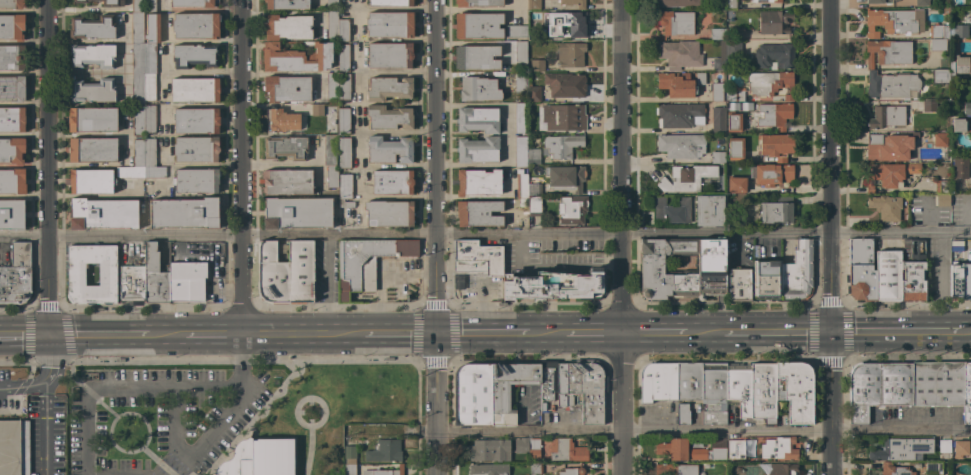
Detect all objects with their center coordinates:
building: (766, 1)
building: (881, 1)
building: (104, 2)
building: (547, 2)
building: (195, 3)
building: (331, 3)
building: (390, 3)
building: (477, 3)
building: (573, 3)
building: (678, 3)
building: (921, 3)
building: (957, 3)
building: (12, 4)
building: (286, 4)
building: (533, 4)
building: (731, 4)
building: (941, 5)
building: (138, 6)
building: (149, 6)
road: (395, 7)
road: (90, 9)
building: (933, 9)
building: (946, 10)
building: (729, 14)
building: (675, 22)
building: (774, 22)
building: (893, 22)
building: (567, 23)
building: (332, 24)
building: (389, 24)
building: (478, 25)
building: (196, 26)
building: (11, 27)
building: (287, 27)
building: (92, 28)
building: (152, 28)
building: (342, 30)
building: (515, 31)
building: (939, 31)
building: (958, 31)
building: (737, 33)
building: (716, 34)
building: (534, 35)
road: (395, 39)
building: (937, 45)
building: (733, 49)
building: (520, 52)
building: (888, 53)
building: (570, 54)
building: (679, 54)
building: (93, 55)
building: (194, 55)
building: (389, 55)
building: (774, 56)
building: (476, 57)
building: (12, 58)
building: (297, 58)
building: (343, 58)
building: (720, 58)
building: (141, 63)
building: (961, 64)
building: (537, 65)
road: (200, 71)
road: (395, 71)
road: (287, 74)
building: (940, 77)
building: (520, 81)
building: (562, 83)
building: (679, 84)
building: (892, 85)
building: (344, 86)
building: (332, 87)
building: (388, 88)
building: (764, 88)
building: (12, 89)
building: (286, 89)
building: (478, 89)
building: (195, 90)
building: (92, 91)
building: (716, 92)
building: (533, 93)
building: (928, 106)
building: (733, 107)
building: (967, 108)
building: (317, 110)
building: (679, 114)
building: (773, 115)
building: (388, 117)
building: (564, 117)
building: (889, 117)
road: (357, 118)
building: (520, 118)
building: (93, 119)
building: (149, 119)
building: (477, 119)
building: (718, 119)
building: (12, 120)
building: (281, 120)
building: (137, 121)
building: (196, 121)
building: (343, 121)
building: (733, 122)
building: (958, 125)
road: (395, 132)
road: (505, 133)
building: (712, 137)
building: (940, 142)
building: (681, 145)
building: (776, 145)
building: (561, 146)
building: (887, 146)
building: (285, 147)
building: (196, 149)
building: (735, 149)
building: (12, 150)
building: (93, 150)
building: (330, 150)
building: (389, 150)
building: (477, 150)
building: (520, 151)
building: (344, 152)
building: (533, 156)
building: (717, 157)
building: (142, 161)
road: (46, 166)
road: (829, 166)
road: (240, 167)
road: (395, 167)
building: (959, 167)
building: (773, 174)
building: (888, 174)
building: (332, 177)
building: (565, 178)
building: (685, 178)
building: (196, 180)
building: (12, 181)
building: (91, 181)
building: (286, 182)
building: (392, 182)
building: (478, 182)
building: (521, 184)
building: (735, 185)
building: (344, 186)
building: (941, 186)
building: (534, 189)
road: (395, 196)
building: (942, 200)
building: (346, 203)
building: (522, 203)
building: (534, 206)
building: (885, 207)
building: (572, 209)
building: (708, 210)
building: (670, 211)
building: (777, 211)
building: (103, 213)
building: (184, 213)
building: (297, 213)
building: (389, 213)
building: (478, 213)
building: (12, 214)
road: (485, 235)
road: (434, 237)
road: (618, 237)
building: (475, 260)
building: (366, 262)
building: (652, 263)
building: (711, 267)
building: (859, 270)
building: (912, 270)
building: (285, 273)
building: (797, 273)
building: (887, 275)
building: (74, 276)
building: (154, 276)
building: (17, 278)
building: (187, 280)
building: (767, 280)
building: (960, 281)
building: (131, 284)
building: (554, 285)
building: (738, 285)
road: (23, 333)
road: (102, 333)
road: (896, 333)
road: (966, 333)
traffic signals: (46, 334)
road: (200, 334)
road: (652, 334)
road: (703, 334)
road: (775, 334)
traffic signals: (830, 334)
road: (301, 335)
road: (398, 335)
traffic signals: (435, 335)
road: (482, 335)
road: (547, 335)
road: (592, 335)
road: (47, 358)
road: (258, 360)
building: (689, 381)
building: (659, 382)
building: (938, 383)
road: (29, 384)
building: (739, 387)
building: (879, 387)
building: (574, 388)
road: (5, 389)
road: (149, 389)
building: (795, 391)
building: (763, 392)
building: (714, 393)
building: (967, 393)
building: (473, 394)
building: (500, 397)
road: (310, 398)
road: (47, 402)
road: (831, 404)
building: (683, 413)
road: (127, 414)
parking lot: (167, 416)
park: (228, 417)
road: (702, 432)
road: (286, 439)
building: (534, 445)
building: (512, 446)
building: (944, 446)
building: (14, 447)
building: (739, 447)
road: (45, 448)
building: (779, 448)
building: (960, 448)
building: (482, 450)
building: (693, 450)
building: (901, 450)
road: (310, 451)
building: (384, 451)
building: (568, 451)
road: (197, 453)
building: (350, 454)
building: (260, 458)
road: (159, 461)
building: (933, 467)
building: (535, 468)
building: (349, 469)
building: (676, 469)
building: (775, 469)
building: (893, 469)
building: (488, 470)
building: (384, 471)
building: (572, 471)

